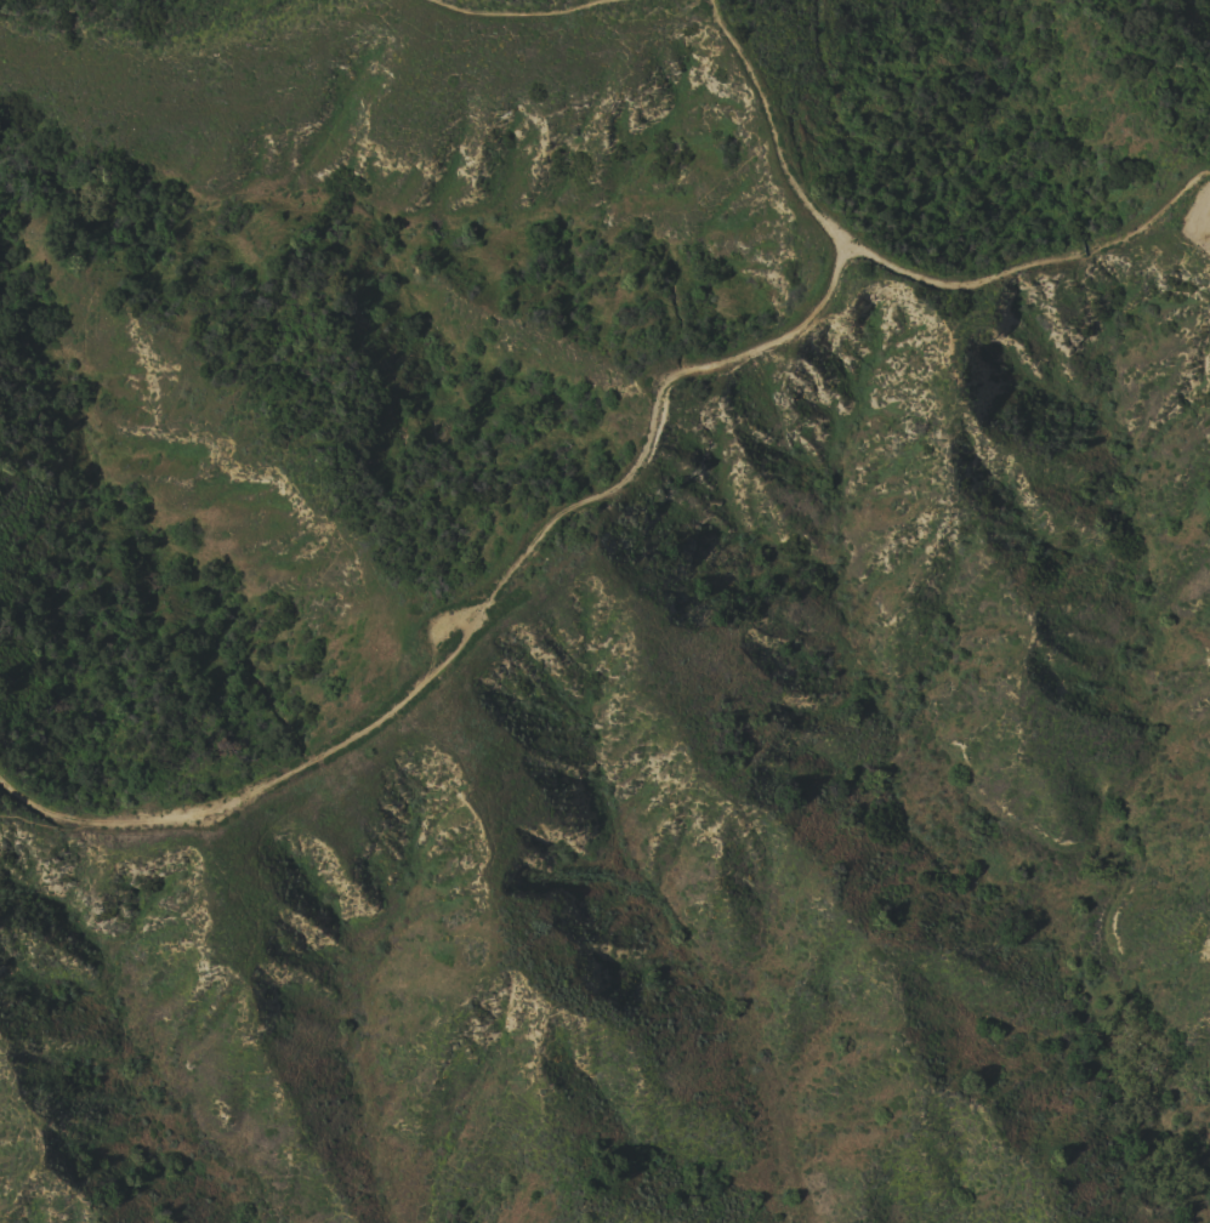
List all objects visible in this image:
road: (536, 23)
road: (769, 125)
road: (1035, 262)
road: (481, 619)

